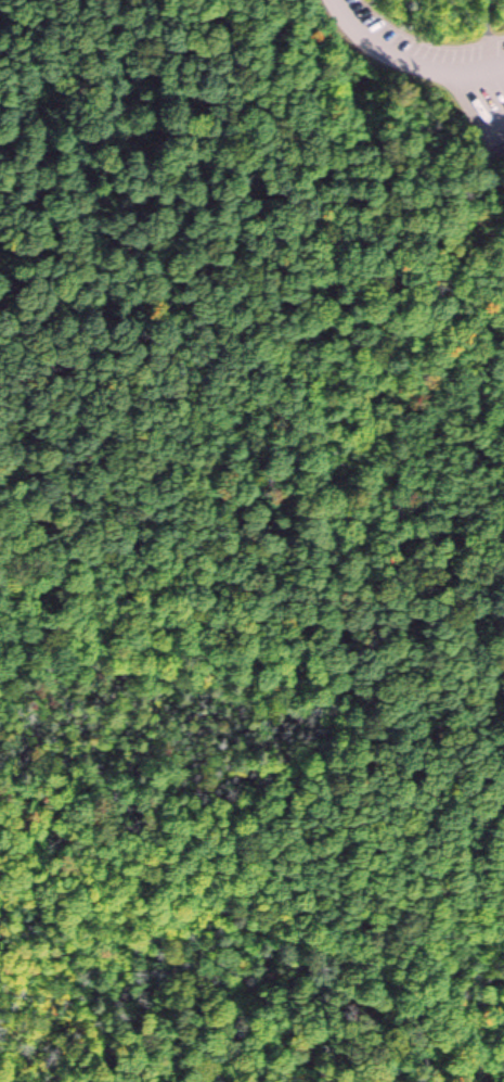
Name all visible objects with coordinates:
road: (413, 59)
parking lot: (478, 81)
road: (478, 109)
road: (100, 157)

